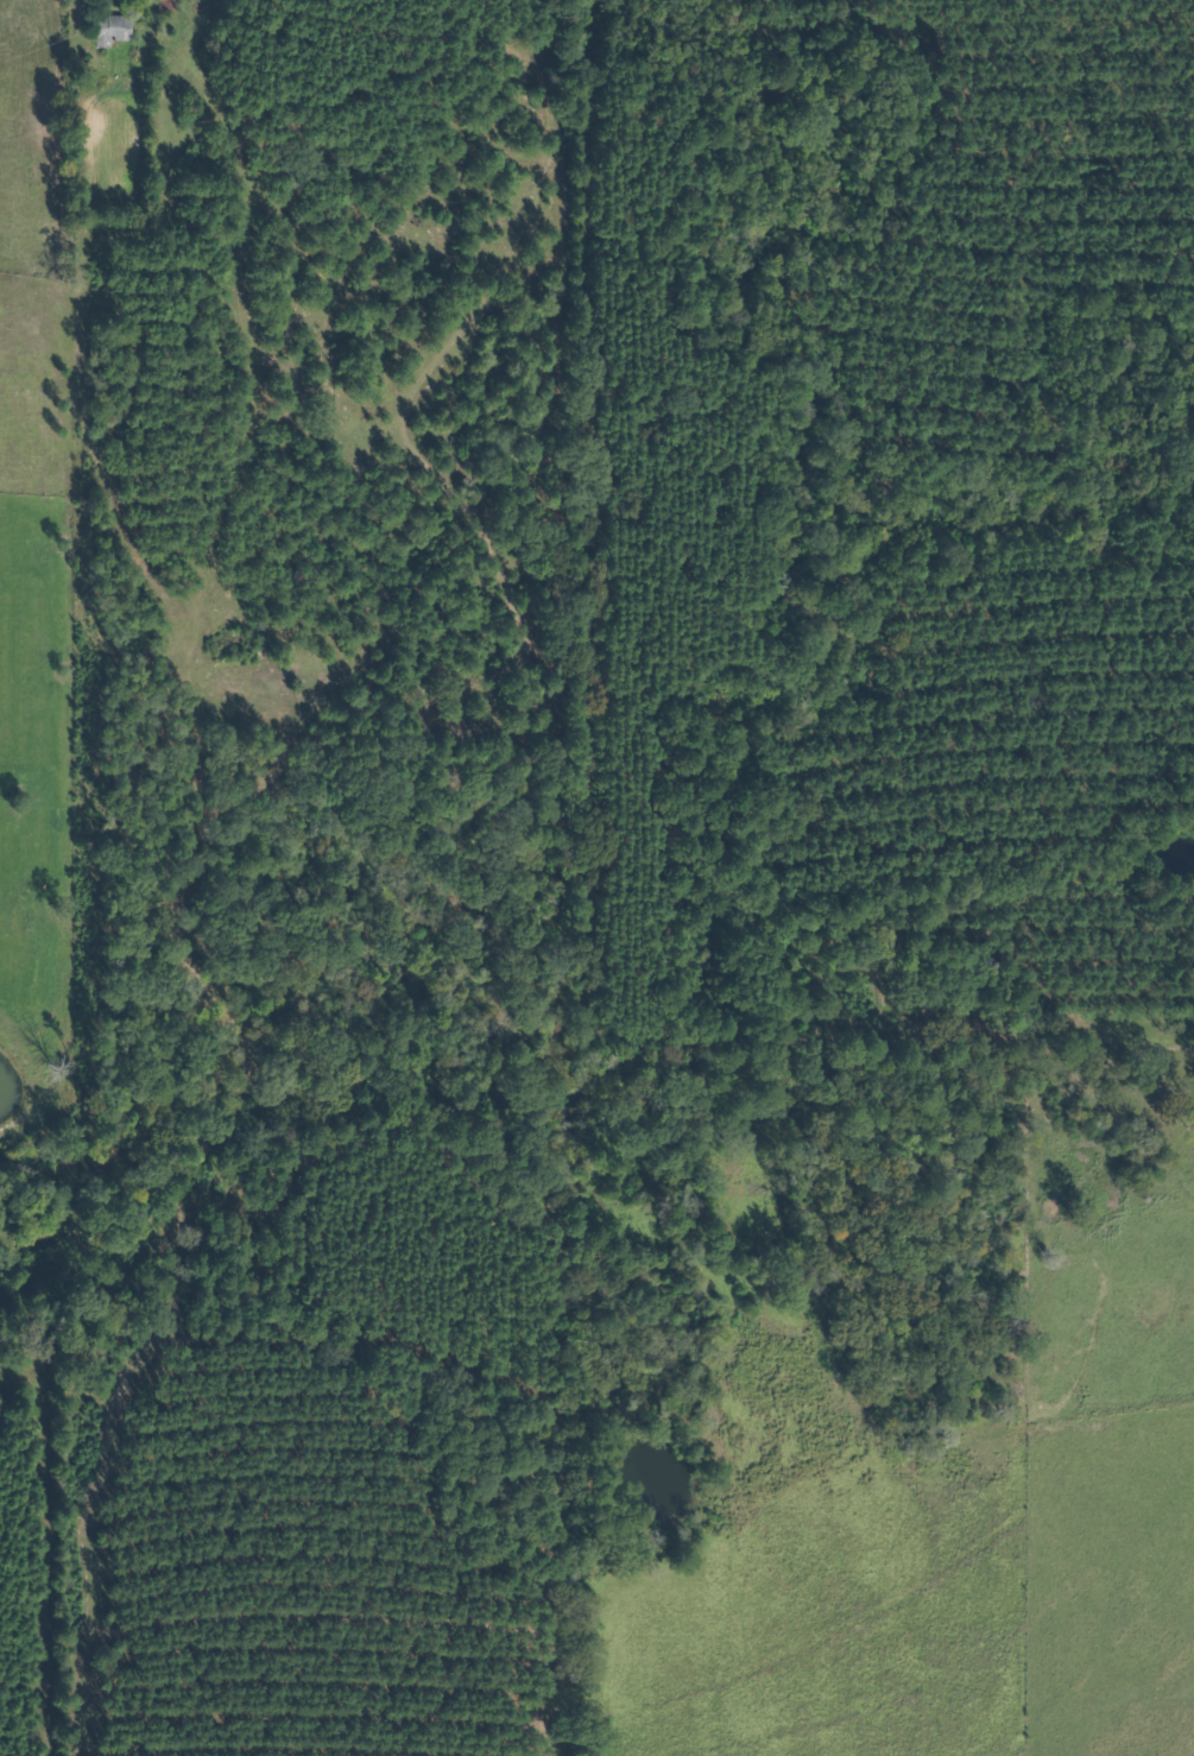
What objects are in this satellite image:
building: (118, 30)

